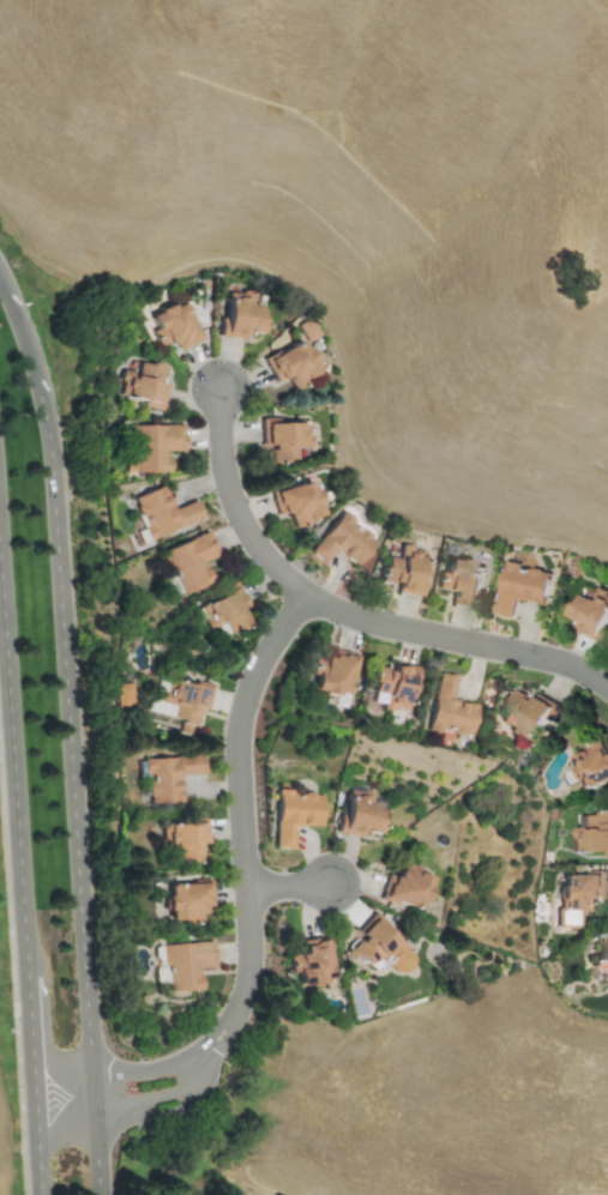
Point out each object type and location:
building: (241, 314)
building: (174, 325)
building: (308, 328)
road: (26, 338)
building: (291, 363)
building: (144, 382)
building: (282, 439)
building: (151, 446)
building: (297, 501)
building: (162, 511)
building: (343, 539)
building: (189, 561)
building: (403, 568)
building: (460, 580)
building: (519, 586)
building: (223, 611)
road: (344, 611)
building: (589, 614)
building: (332, 671)
building: (392, 687)
building: (122, 694)
building: (449, 707)
building: (526, 713)
road: (13, 764)
building: (592, 765)
building: (168, 775)
road: (241, 798)
road: (74, 799)
building: (361, 810)
building: (294, 813)
building: (591, 833)
building: (185, 839)
road: (289, 885)
building: (407, 886)
building: (578, 897)
building: (187, 899)
building: (380, 947)
building: (602, 960)
building: (311, 961)
building: (181, 964)
road: (36, 1028)
road: (144, 1072)
road: (186, 1074)
road: (155, 1096)
road: (165, 1112)
road: (40, 1143)

